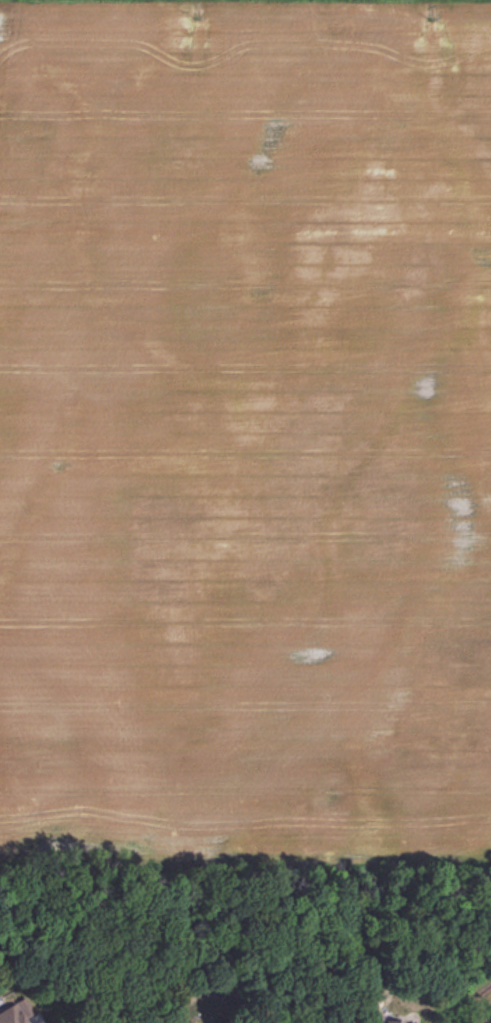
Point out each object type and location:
building: (14, 1012)
building: (403, 1020)
building: (180, 1022)

